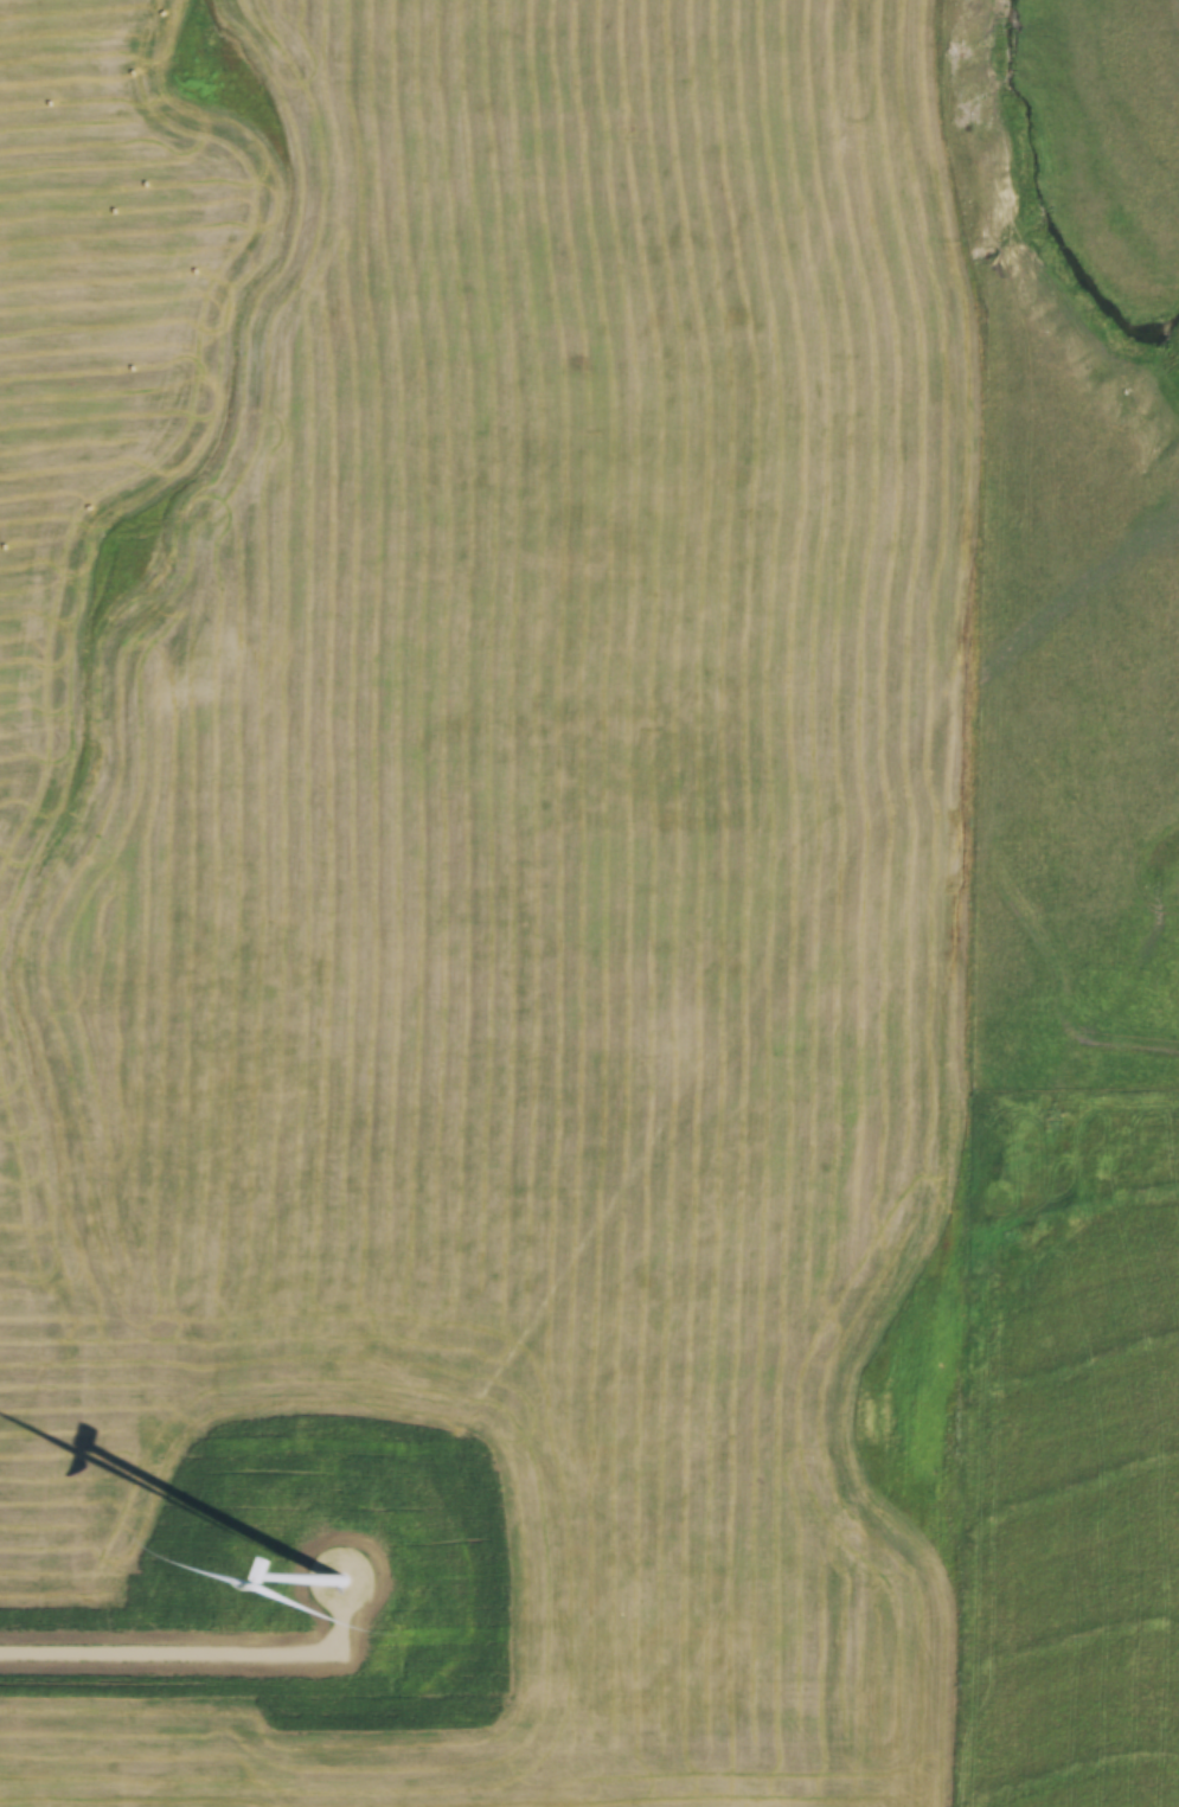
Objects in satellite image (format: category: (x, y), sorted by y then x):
wind turbine: (341, 1571)

